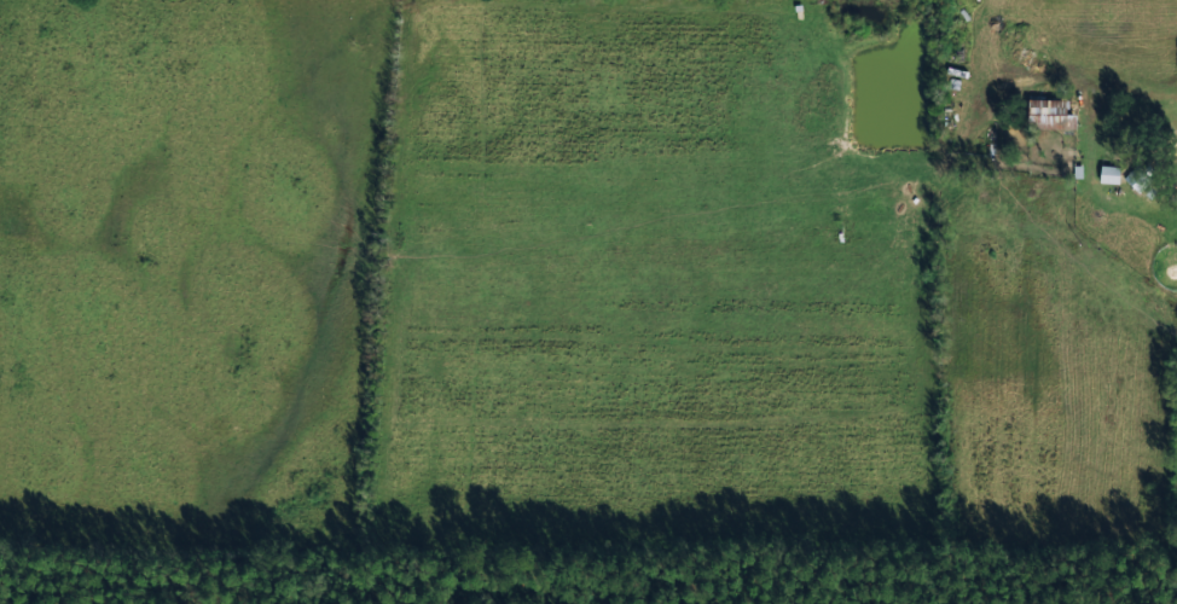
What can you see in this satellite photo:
building: (1053, 111)
building: (1109, 173)

